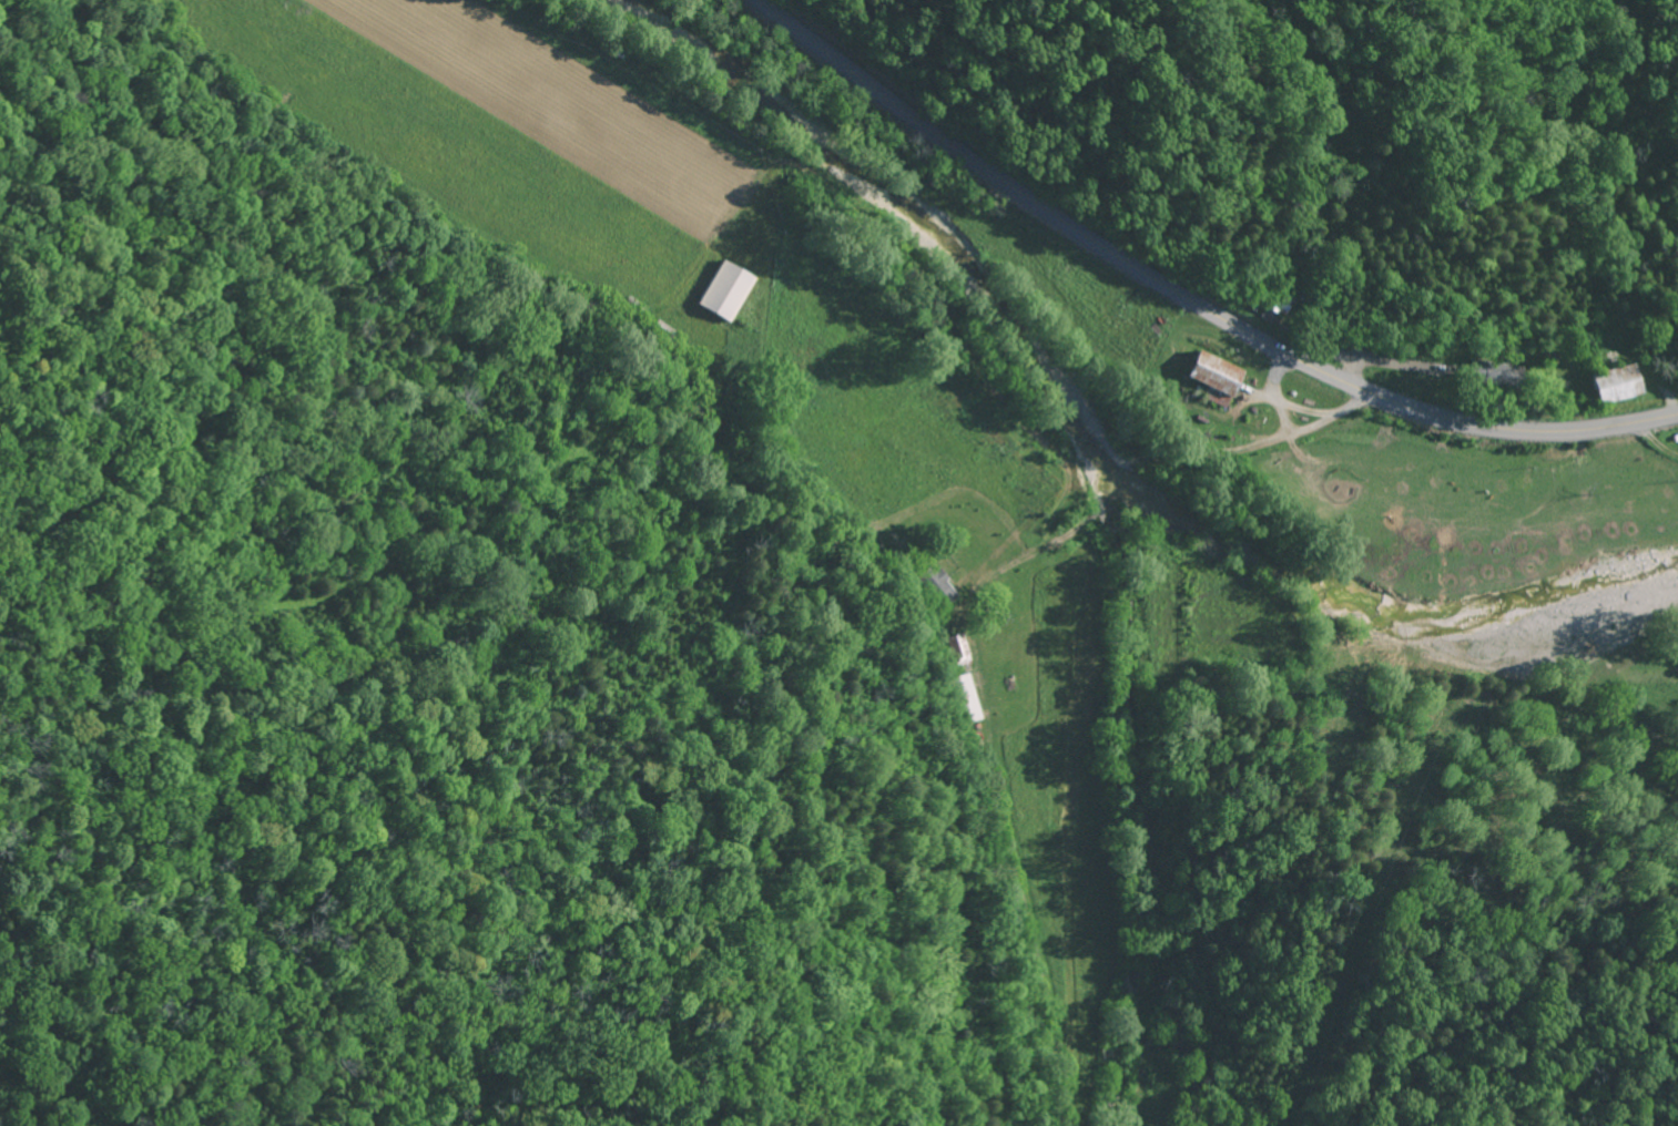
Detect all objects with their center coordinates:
building: (724, 291)
road: (1184, 298)
building: (1214, 375)
building: (1613, 385)
road: (1259, 475)

